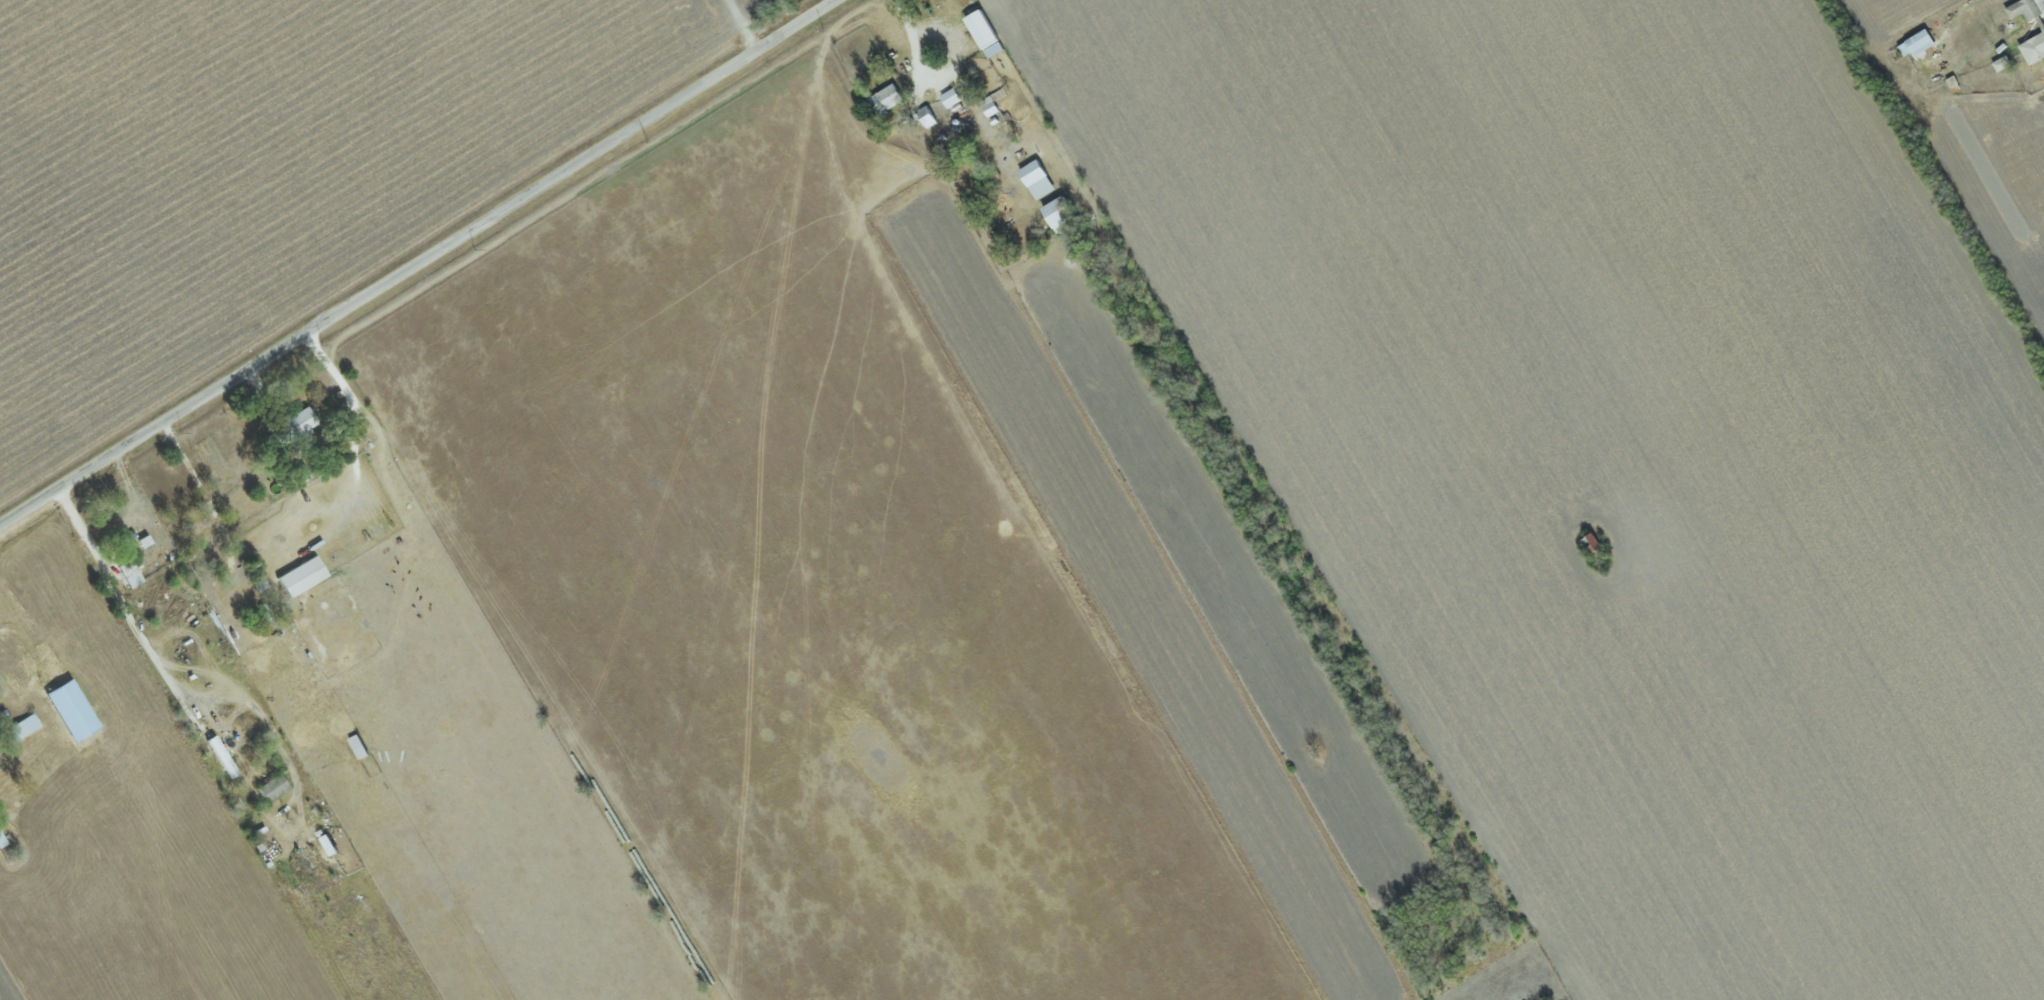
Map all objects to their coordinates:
building: (2027, 9)
building: (987, 34)
building: (1919, 44)
road: (913, 47)
building: (2034, 49)
building: (952, 98)
building: (1039, 180)
building: (1061, 213)
road: (419, 263)
building: (294, 426)
road: (209, 504)
building: (303, 576)
road: (128, 618)
building: (73, 710)
building: (24, 726)
building: (223, 756)
building: (1, 765)
building: (273, 787)

